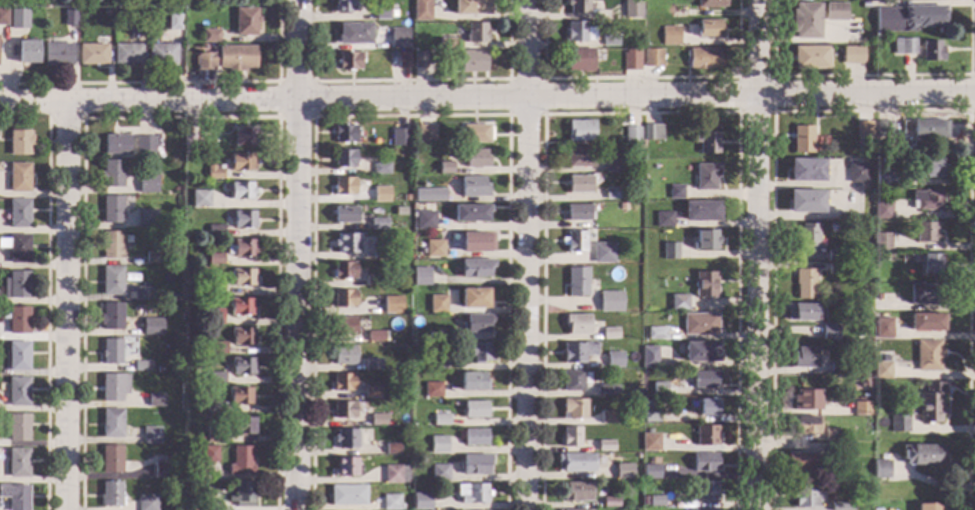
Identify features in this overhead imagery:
building: (710, 3)
building: (346, 6)
building: (576, 6)
building: (471, 7)
building: (631, 9)
building: (105, 10)
building: (421, 10)
building: (86, 12)
building: (380, 12)
building: (677, 12)
building: (835, 12)
building: (392, 14)
building: (2, 17)
building: (69, 17)
building: (908, 18)
building: (16, 19)
building: (36, 20)
building: (173, 21)
building: (245, 21)
building: (804, 21)
building: (136, 27)
building: (709, 29)
building: (577, 32)
building: (476, 33)
building: (353, 34)
building: (669, 35)
building: (209, 36)
building: (398, 38)
building: (609, 40)
building: (445, 44)
building: (903, 47)
building: (26, 51)
building: (931, 51)
building: (56, 54)
building: (92, 54)
building: (126, 54)
building: (161, 54)
building: (851, 55)
building: (227, 58)
building: (651, 58)
building: (702, 58)
building: (809, 58)
building: (403, 60)
building: (419, 60)
building: (579, 60)
building: (349, 61)
building: (472, 61)
building: (630, 61)
road: (869, 77)
road: (738, 78)
road: (969, 93)
road: (487, 101)
road: (872, 111)
building: (862, 129)
building: (883, 129)
building: (928, 129)
building: (580, 131)
building: (652, 132)
building: (475, 133)
building: (344, 134)
building: (424, 134)
building: (631, 135)
building: (243, 137)
building: (400, 137)
building: (802, 139)
building: (19, 142)
building: (189, 142)
building: (705, 142)
building: (116, 144)
building: (144, 144)
building: (909, 151)
building: (849, 152)
building: (579, 157)
building: (472, 158)
building: (344, 159)
building: (240, 162)
building: (929, 164)
building: (611, 166)
building: (444, 168)
building: (380, 169)
building: (806, 170)
building: (213, 172)
building: (857, 173)
building: (112, 174)
building: (705, 176)
building: (18, 177)
building: (883, 178)
building: (146, 184)
building: (578, 184)
building: (344, 186)
building: (473, 187)
building: (241, 190)
building: (675, 192)
building: (612, 193)
building: (381, 194)
building: (429, 195)
building: (404, 198)
building: (199, 199)
building: (926, 200)
building: (806, 202)
building: (623, 206)
building: (112, 209)
building: (645, 209)
building: (882, 210)
building: (701, 211)
building: (18, 213)
building: (469, 213)
building: (577, 213)
building: (344, 214)
building: (147, 219)
building: (243, 219)
building: (663, 219)
building: (424, 220)
building: (378, 224)
building: (214, 230)
building: (625, 231)
building: (926, 233)
building: (808, 237)
building: (705, 240)
building: (476, 241)
building: (882, 241)
building: (573, 242)
building: (346, 243)
building: (111, 245)
building: (16, 248)
building: (243, 248)
building: (434, 249)
building: (669, 251)
building: (378, 252)
building: (602, 253)
road: (302, 254)
road: (526, 254)
road: (755, 254)
building: (837, 255)
building: (153, 257)
building: (213, 258)
building: (173, 261)
building: (931, 264)
building: (475, 267)
building: (835, 269)
building: (344, 270)
building: (421, 276)
building: (242, 277)
building: (136, 278)
building: (111, 281)
building: (373, 281)
building: (577, 282)
building: (804, 283)
building: (705, 285)
building: (16, 286)
building: (214, 288)
building: (141, 293)
building: (203, 293)
building: (923, 295)
building: (877, 297)
building: (343, 298)
building: (474, 298)
building: (606, 301)
building: (679, 302)
building: (437, 304)
building: (391, 305)
road: (60, 306)
building: (240, 307)
building: (626, 307)
building: (615, 310)
building: (801, 312)
building: (111, 316)
building: (214, 317)
building: (16, 319)
building: (926, 322)
building: (476, 323)
building: (576, 324)
building: (699, 324)
building: (152, 326)
building: (341, 326)
building: (882, 328)
building: (656, 333)
building: (829, 333)
building: (610, 334)
building: (241, 336)
building: (376, 336)
building: (444, 336)
building: (130, 341)
building: (216, 348)
building: (112, 352)
building: (476, 352)
building: (577, 352)
building: (700, 352)
building: (344, 355)
building: (927, 355)
building: (18, 356)
building: (648, 357)
building: (804, 358)
building: (613, 359)
building: (436, 360)
building: (372, 364)
building: (141, 366)
building: (241, 366)
building: (836, 368)
building: (881, 369)
building: (675, 376)
building: (215, 378)
building: (574, 380)
building: (701, 381)
building: (472, 382)
building: (343, 383)
building: (861, 383)
building: (113, 387)
building: (660, 387)
building: (606, 389)
building: (432, 390)
building: (17, 391)
building: (371, 392)
building: (239, 396)
building: (155, 400)
building: (805, 400)
building: (931, 403)
building: (213, 406)
building: (706, 407)
building: (860, 408)
building: (574, 409)
building: (343, 410)
building: (474, 410)
building: (650, 410)
building: (607, 418)
building: (377, 420)
building: (440, 420)
building: (112, 423)
building: (898, 423)
building: (241, 425)
building: (802, 425)
building: (18, 427)
building: (878, 429)
building: (648, 431)
building: (213, 434)
building: (151, 435)
building: (831, 435)
building: (706, 436)
building: (571, 437)
building: (199, 438)
building: (345, 438)
building: (474, 438)
building: (650, 442)
building: (437, 445)
building: (605, 446)
building: (391, 449)
building: (836, 452)
building: (208, 455)
building: (924, 455)
building: (111, 459)
building: (240, 461)
building: (575, 462)
building: (704, 462)
building: (799, 462)
building: (17, 463)
building: (475, 464)
building: (345, 468)
building: (880, 469)
building: (162, 470)
building: (623, 472)
building: (651, 472)
building: (439, 473)
building: (395, 474)
building: (651, 487)
building: (577, 492)
building: (705, 492)
building: (472, 493)
building: (111, 494)
building: (242, 494)
building: (347, 495)
building: (15, 497)
building: (807, 497)
building: (654, 501)
building: (391, 502)
building: (420, 502)
building: (610, 502)
building: (147, 503)
building: (210, 506)
building: (841, 506)
building: (928, 507)

